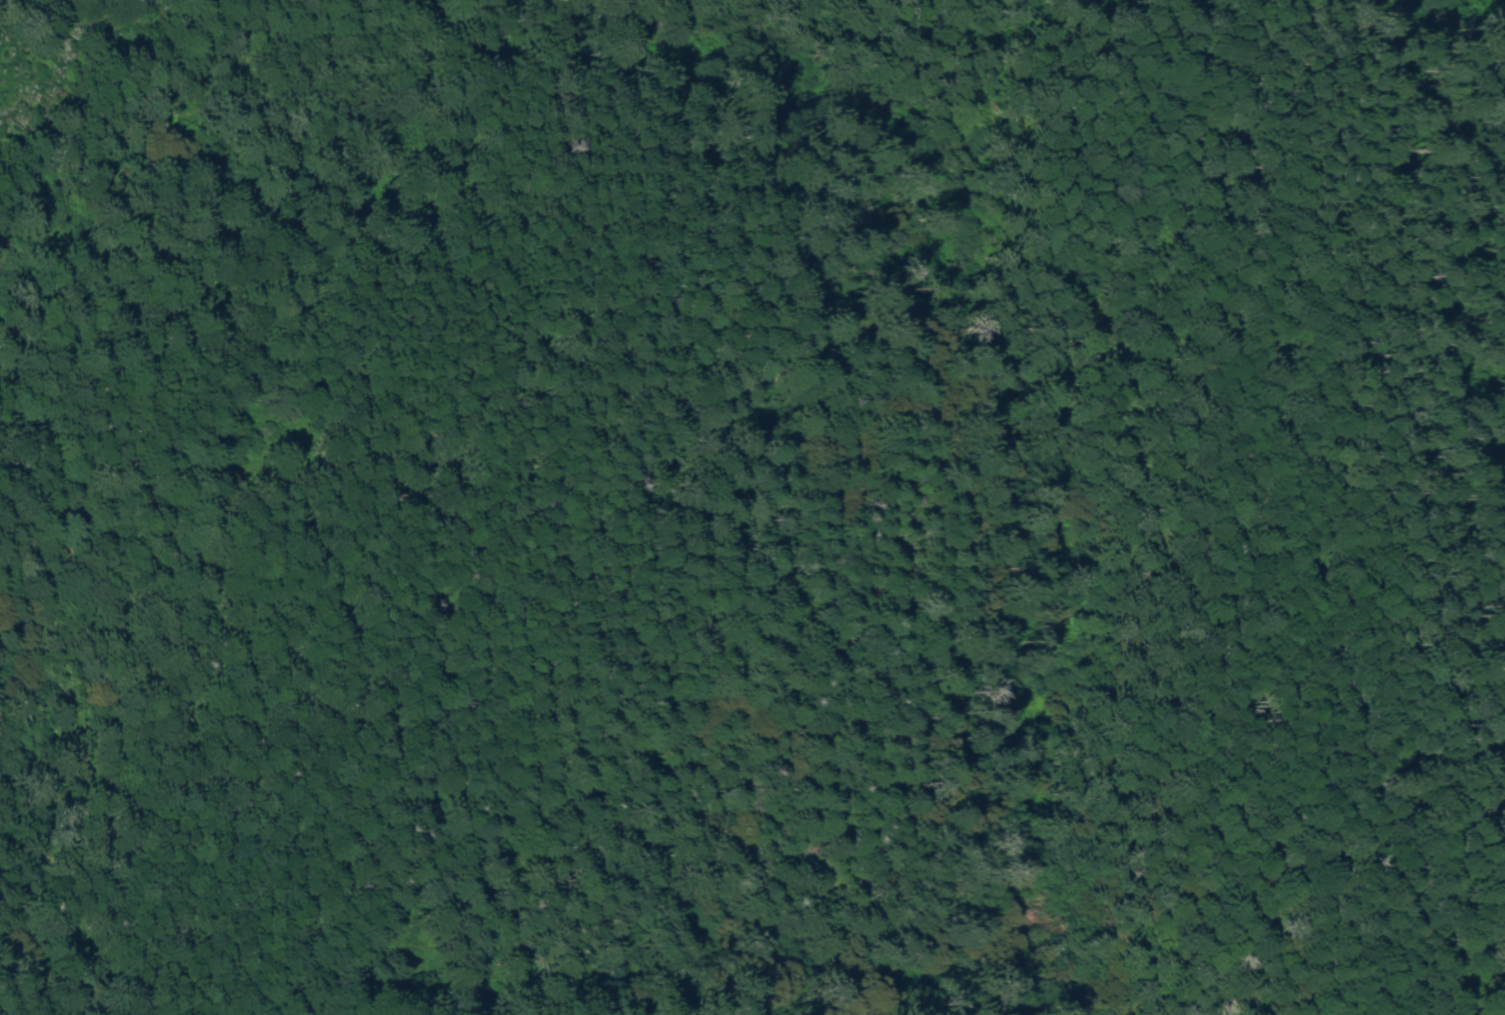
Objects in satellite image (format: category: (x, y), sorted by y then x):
road: (1445, 94)
road: (331, 478)

